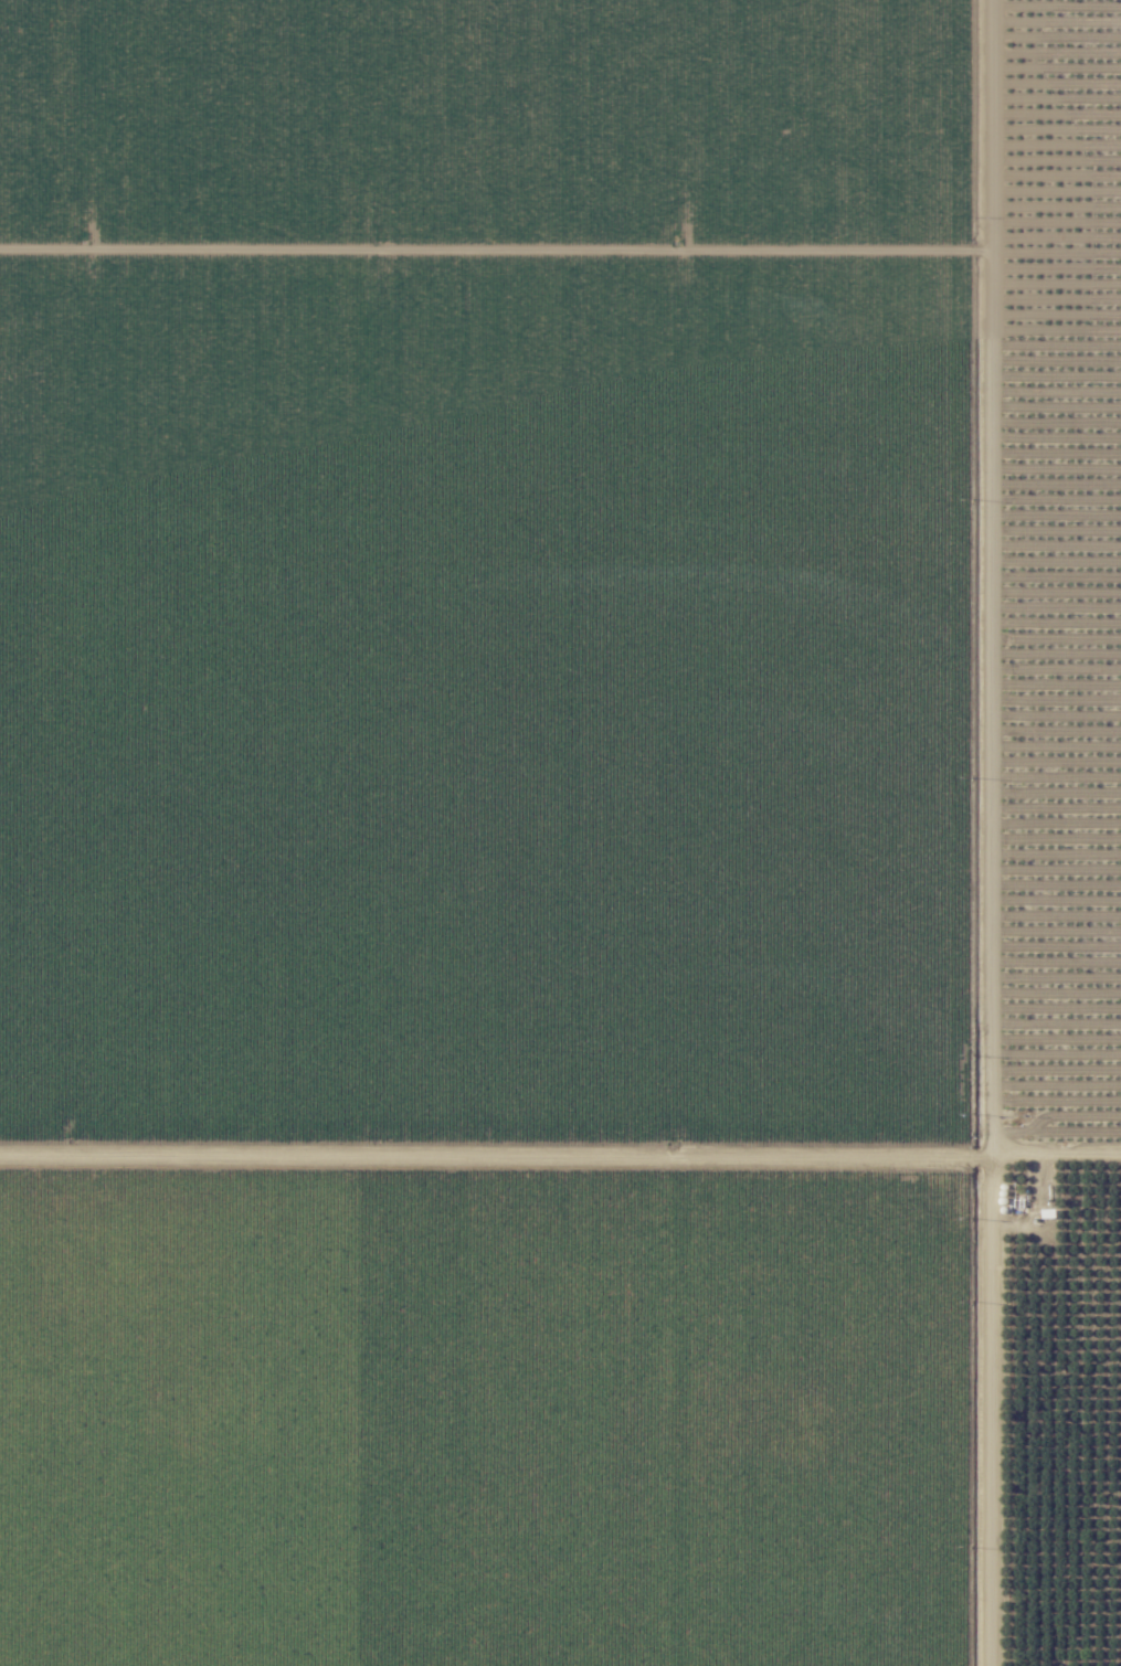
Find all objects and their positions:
crop: (498, 571)
road: (955, 832)
crop: (487, 1157)
road: (560, 1167)
crop: (489, 1415)

